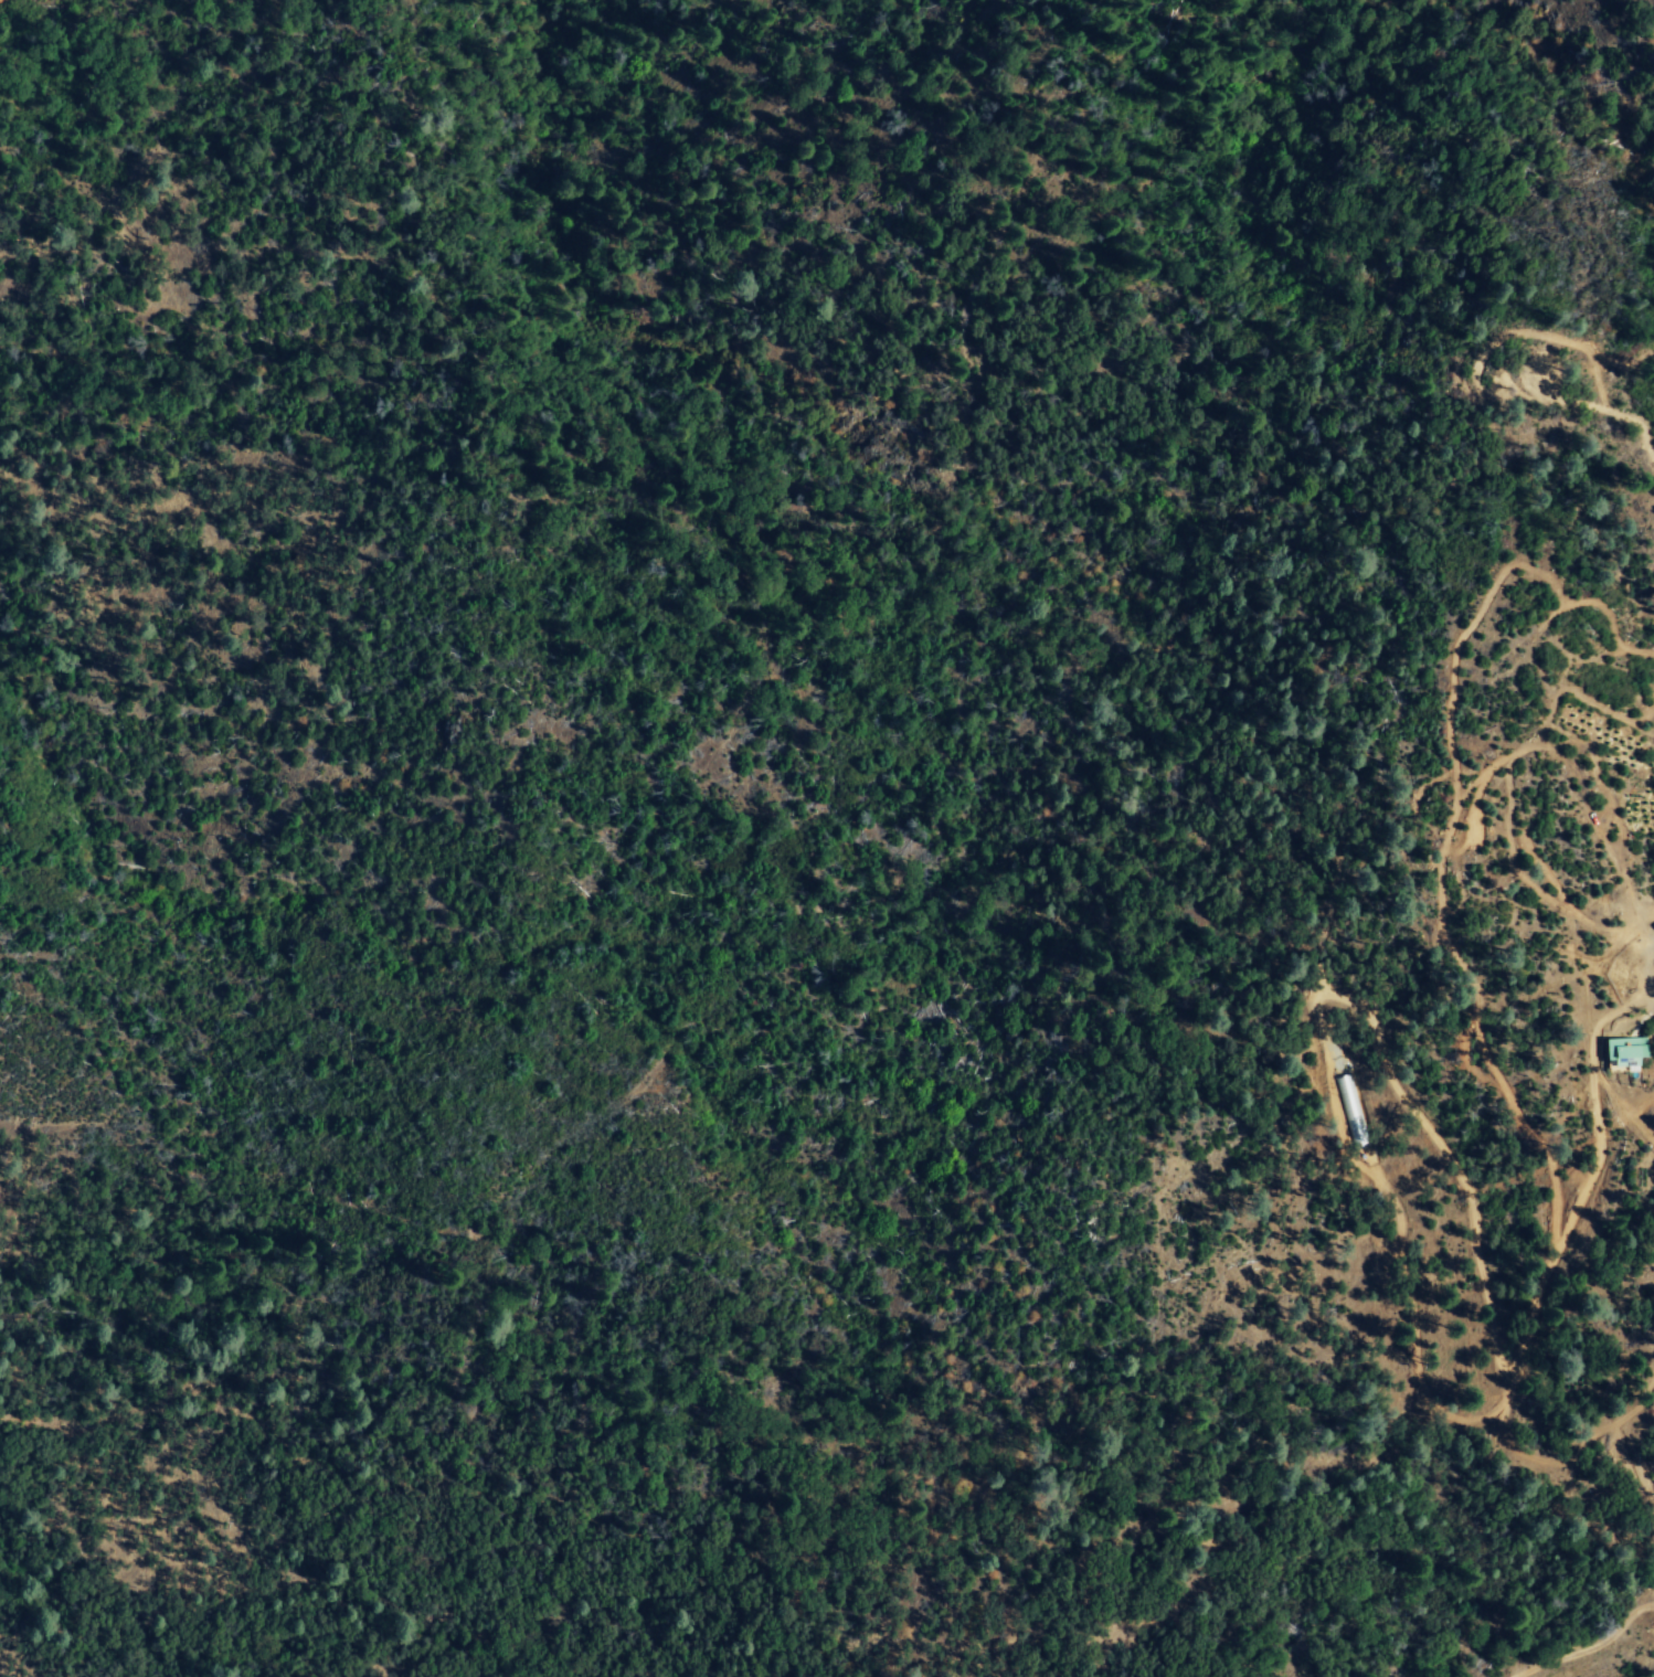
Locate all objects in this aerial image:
building: (1623, 1053)

